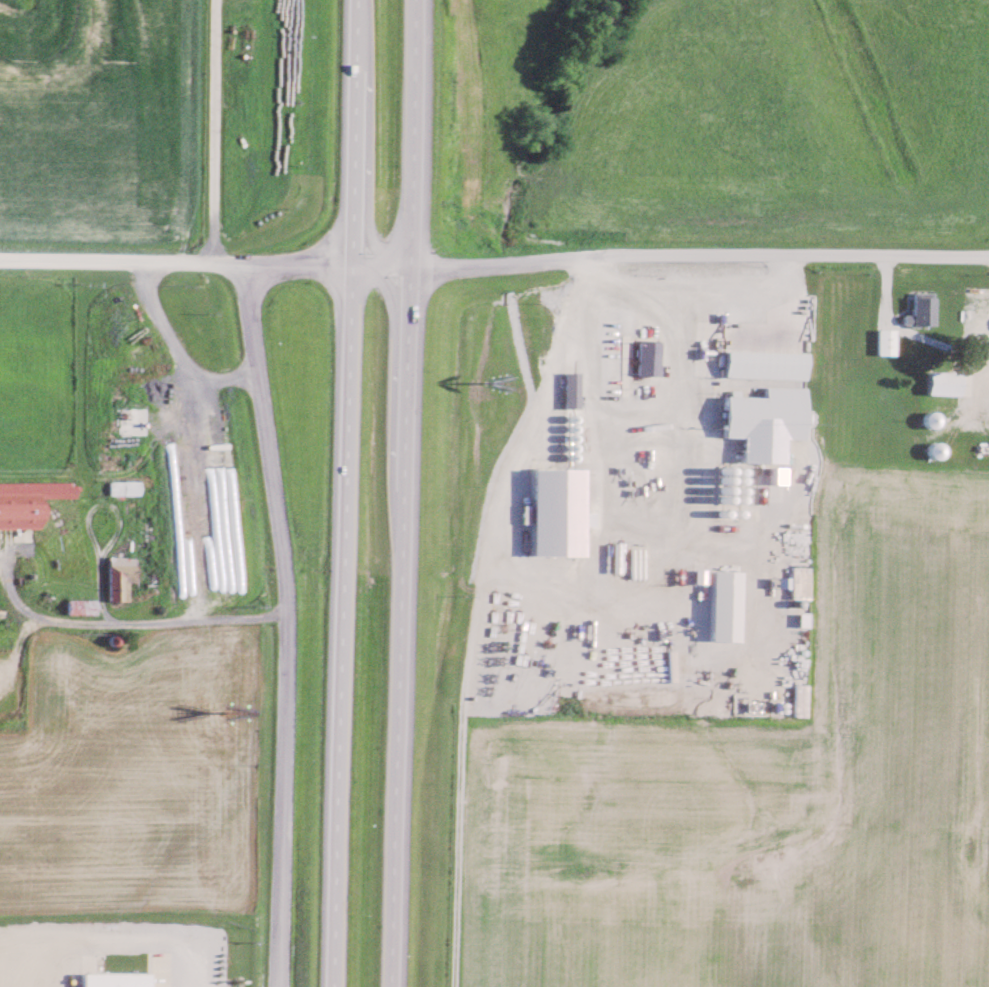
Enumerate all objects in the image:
road: (213, 130)
road: (671, 249)
road: (177, 260)
building: (923, 311)
building: (887, 341)
building: (650, 357)
building: (767, 363)
building: (946, 383)
building: (572, 389)
building: (768, 422)
building: (780, 474)
building: (124, 487)
road: (349, 493)
road: (403, 493)
building: (559, 511)
building: (20, 515)
building: (701, 575)
building: (121, 576)
building: (727, 605)
building: (82, 607)
road: (123, 624)
road: (289, 625)
building: (800, 699)
building: (118, 979)

